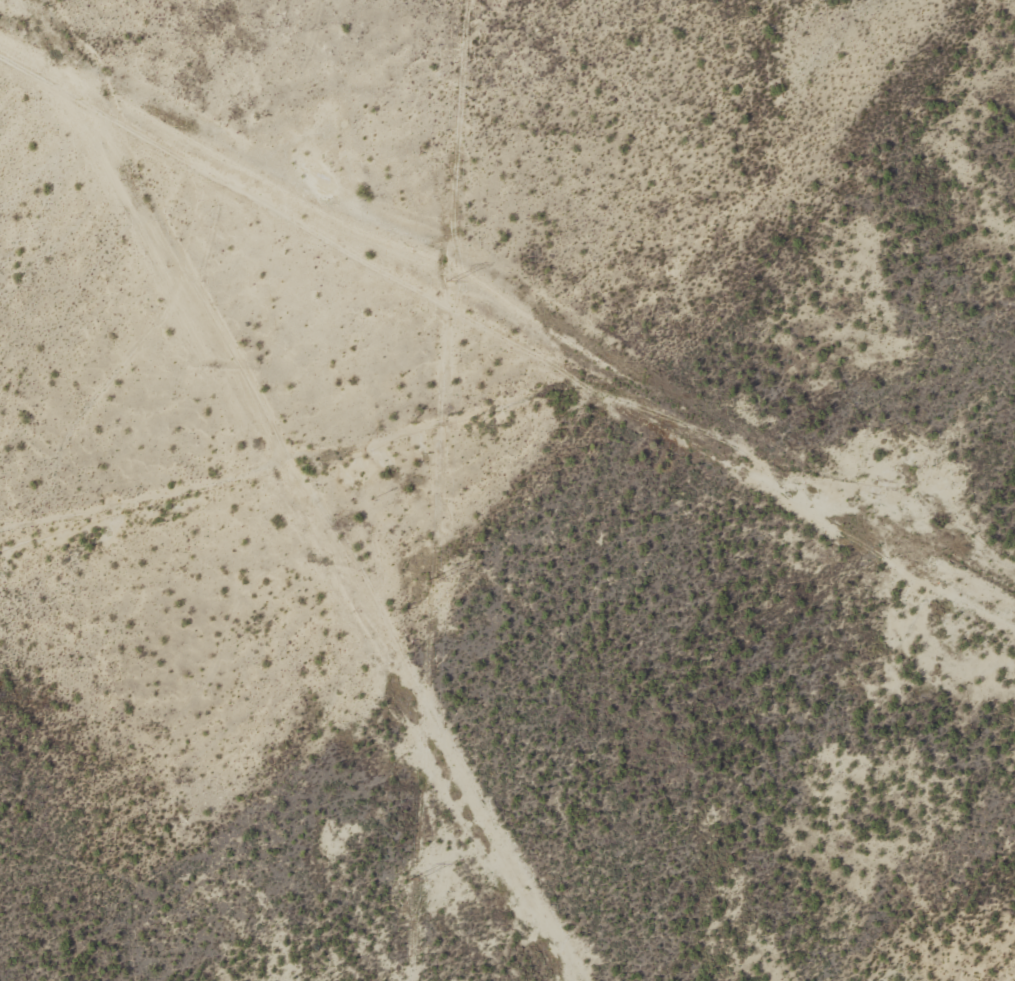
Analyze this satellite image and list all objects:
power tower: (450, 282)
road: (506, 334)
power tower: (433, 581)
power tower: (414, 880)

